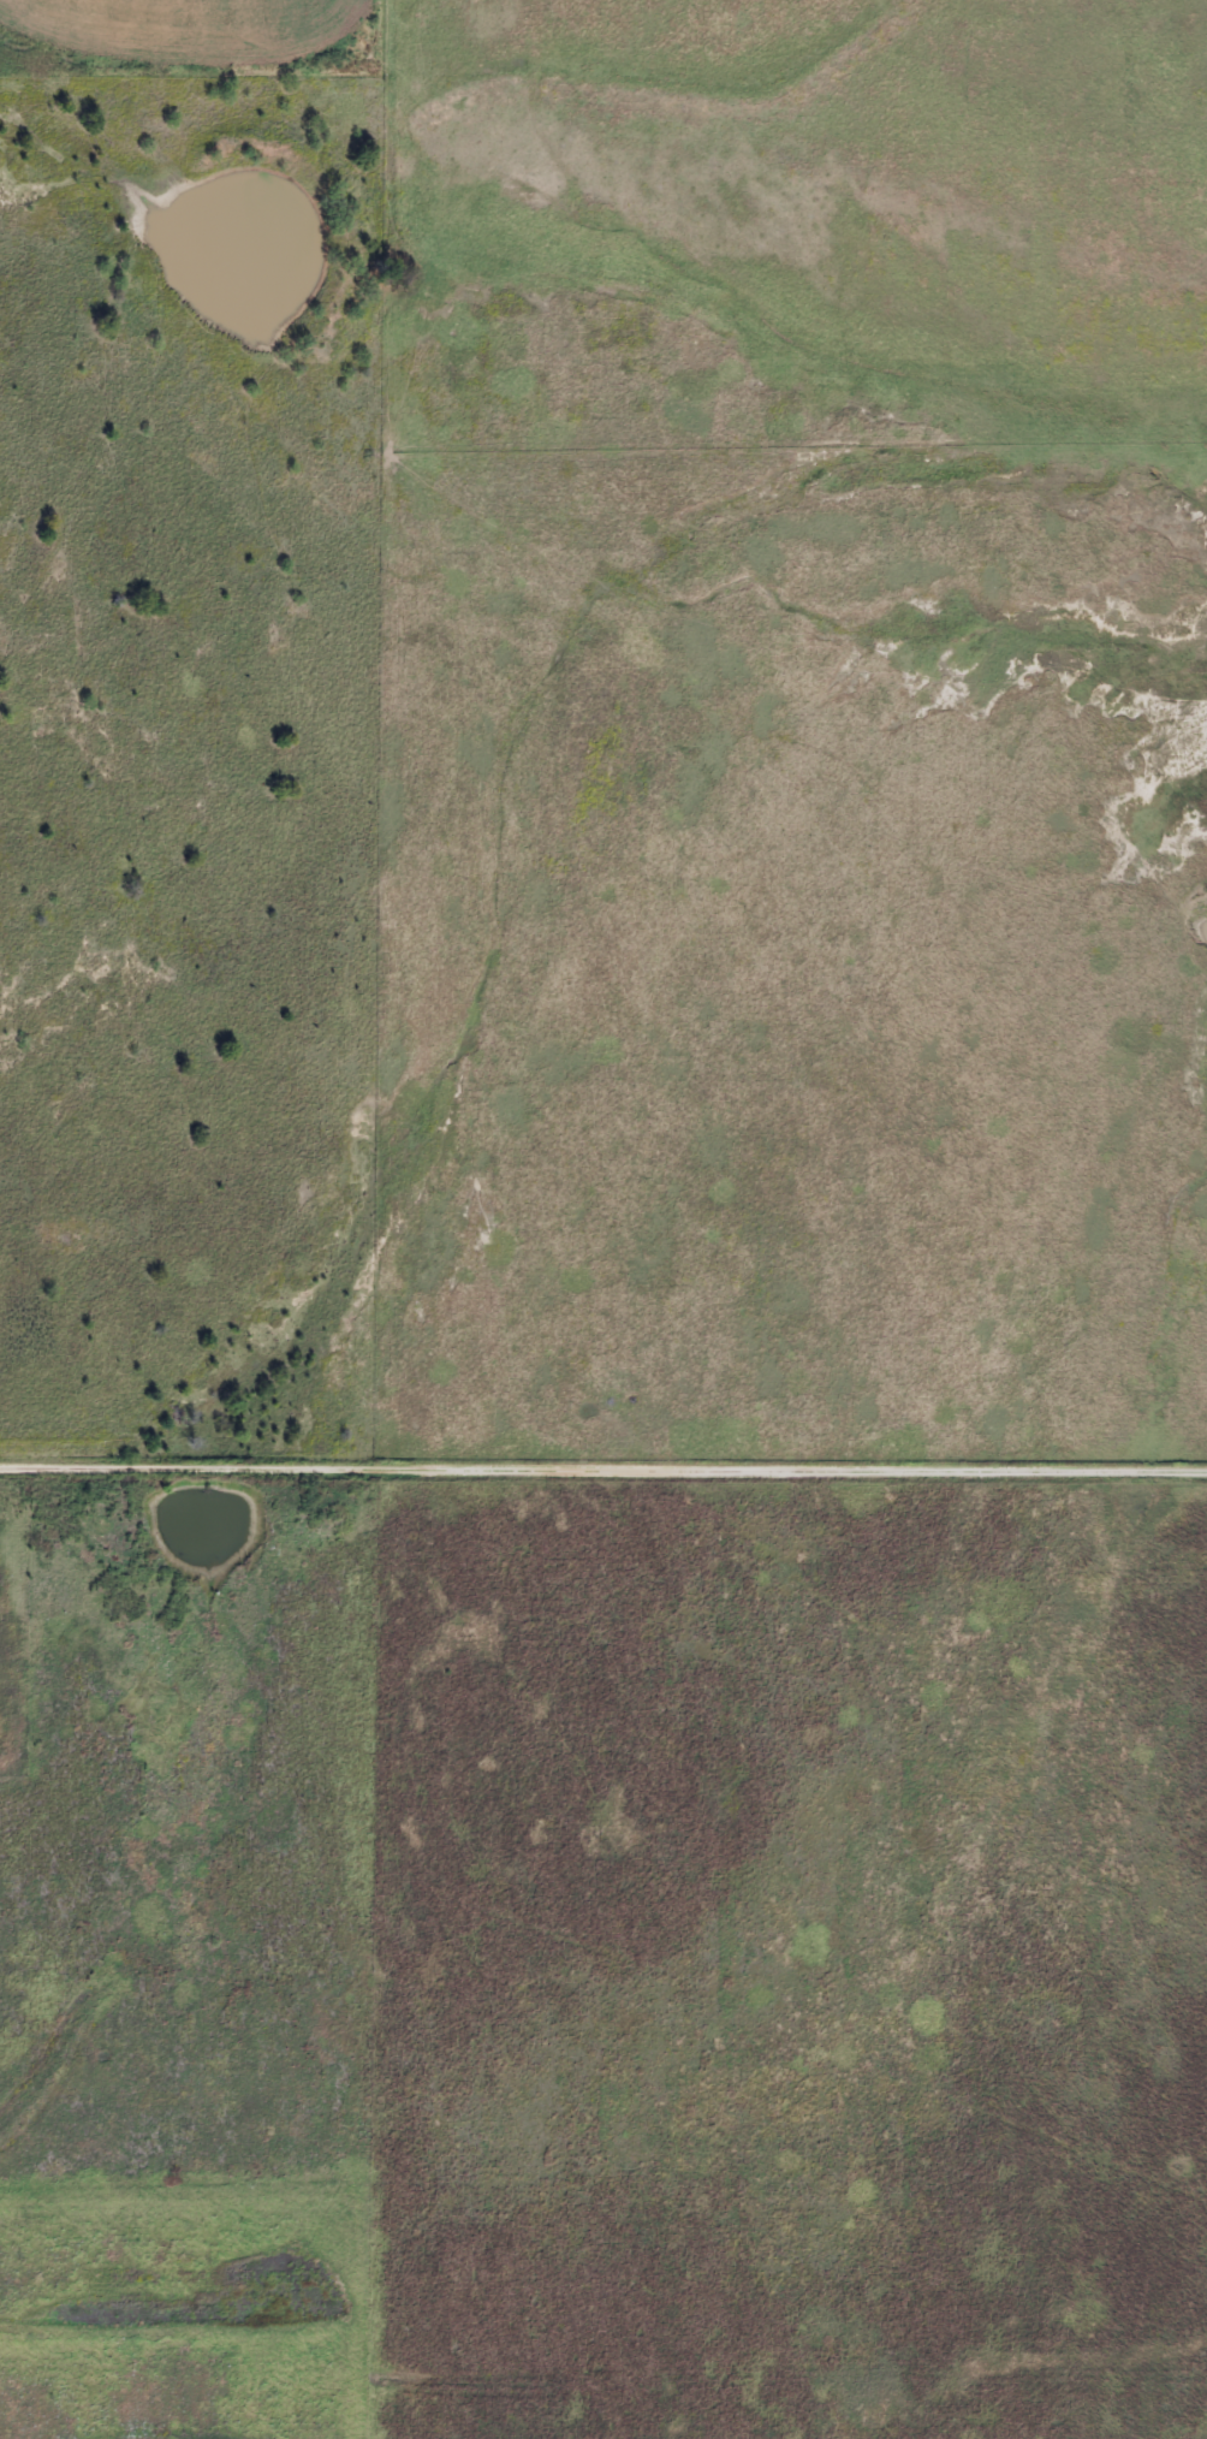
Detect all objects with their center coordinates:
road: (602, 1470)

